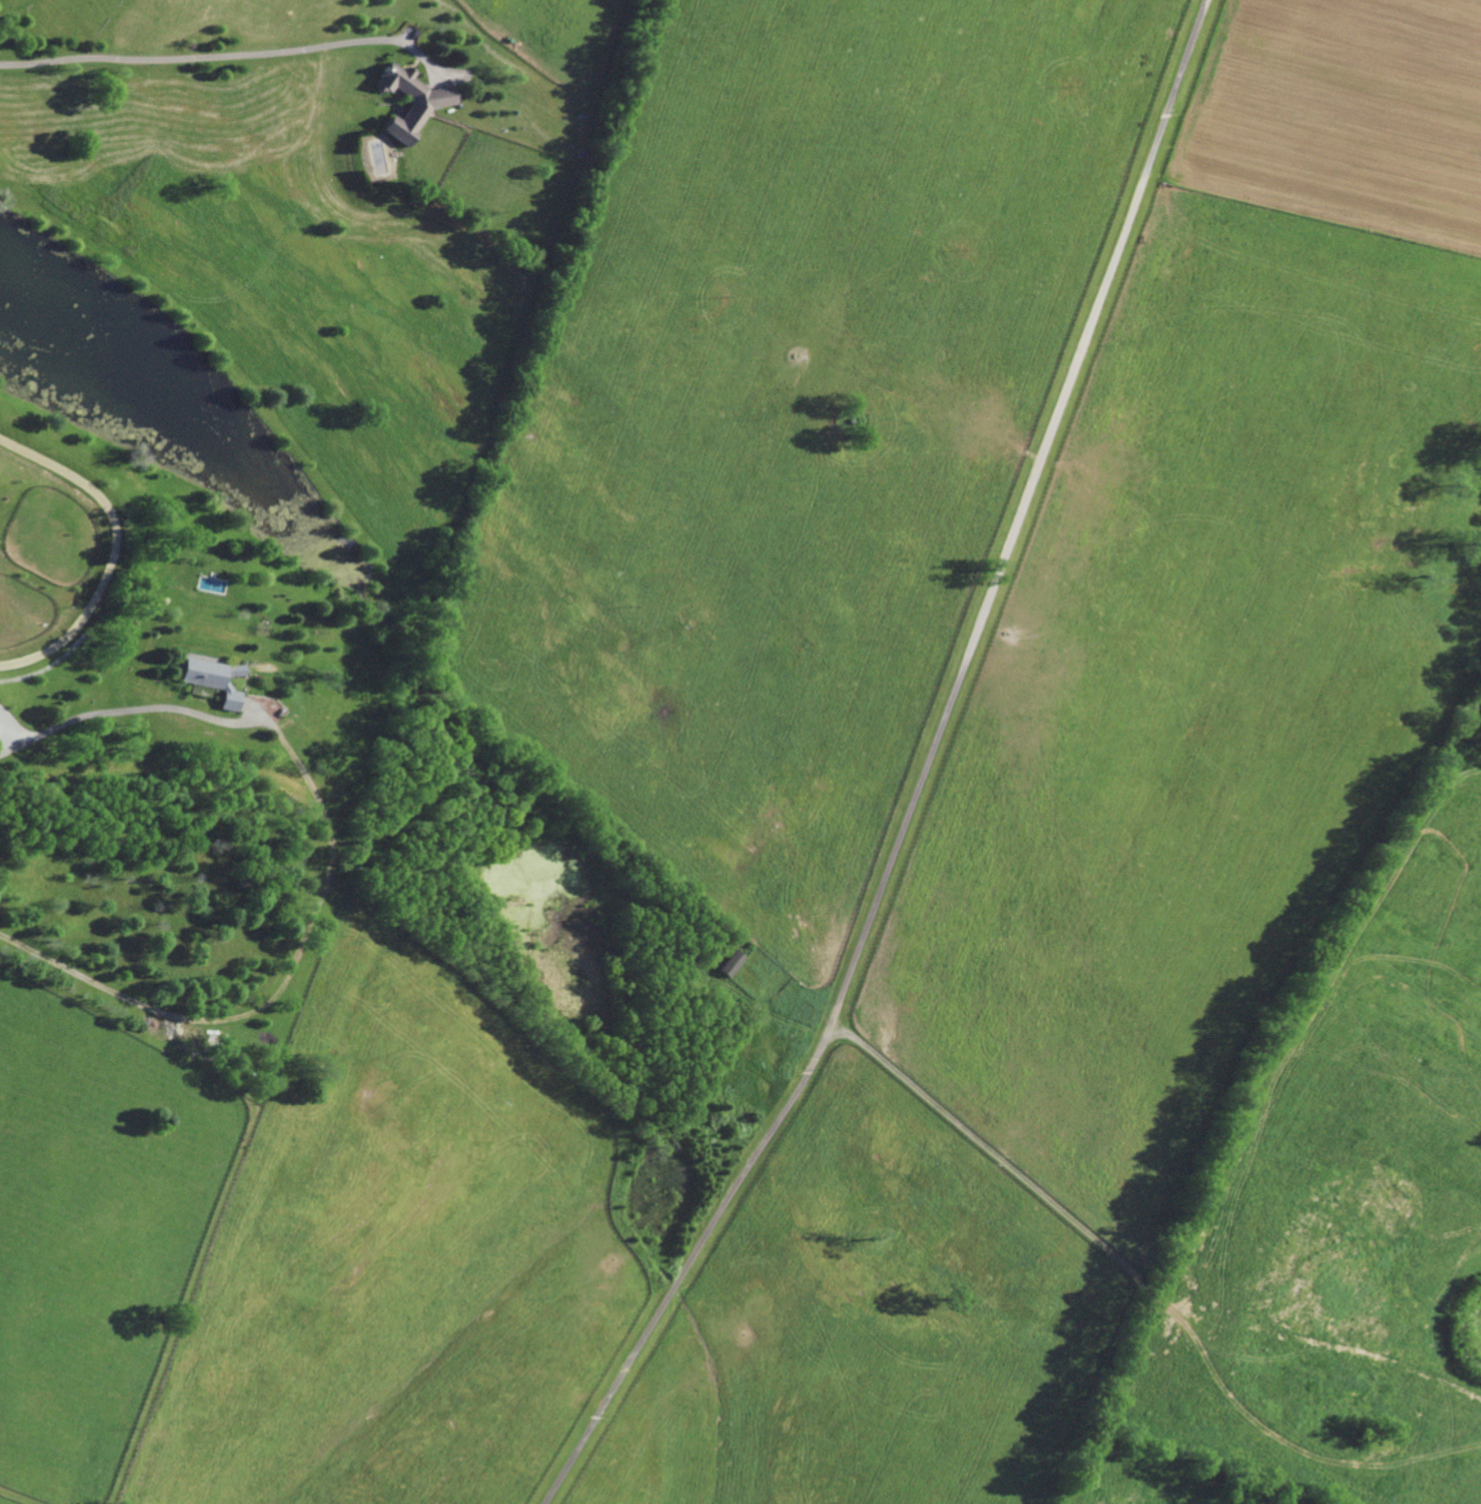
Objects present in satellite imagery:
road: (207, 56)
building: (413, 99)
building: (209, 676)
road: (130, 714)
road: (4, 749)
road: (922, 775)
building: (733, 962)
road: (278, 991)

